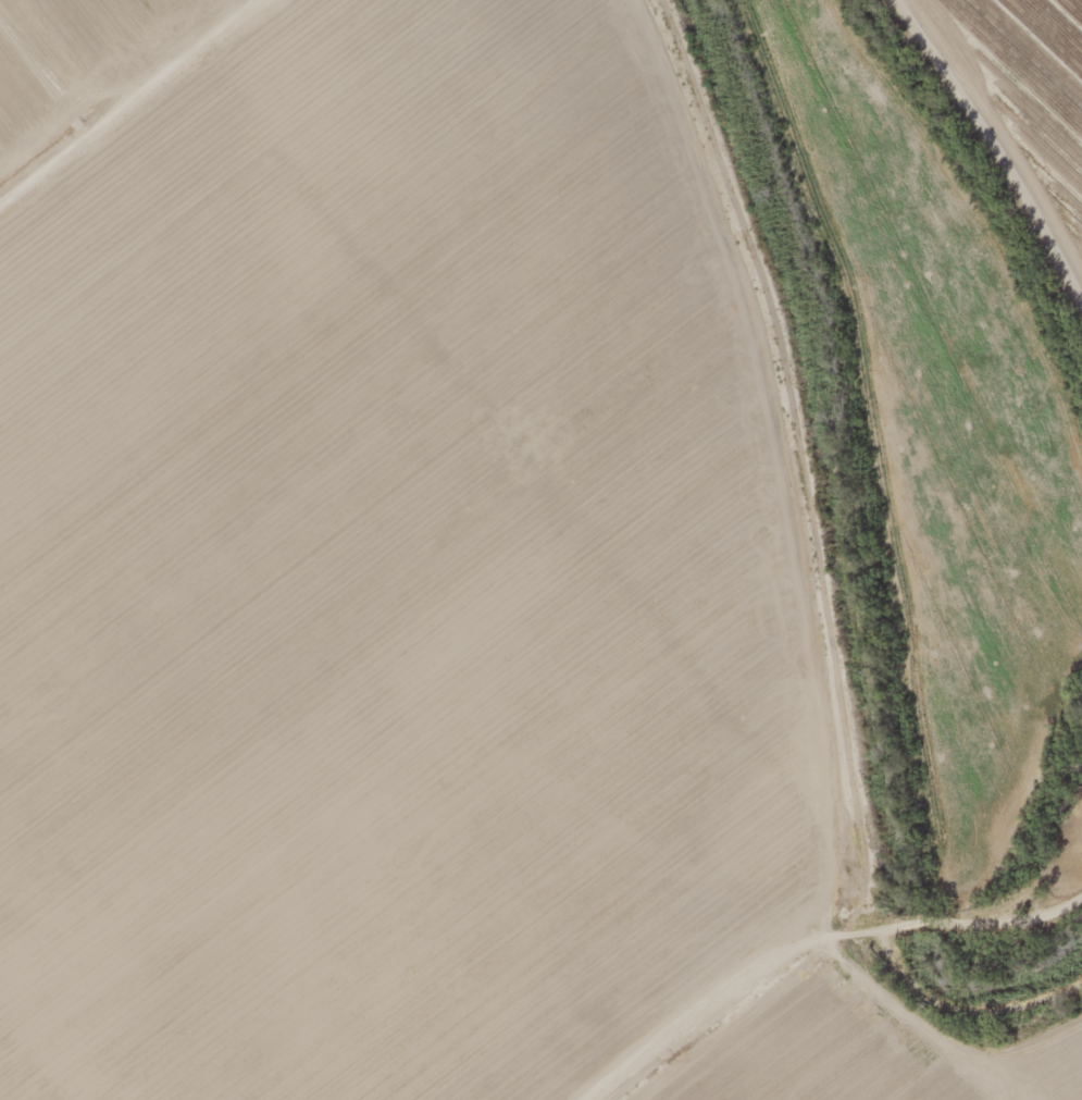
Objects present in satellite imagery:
road: (130, 102)
road: (995, 151)
road: (988, 912)
road: (978, 1015)

